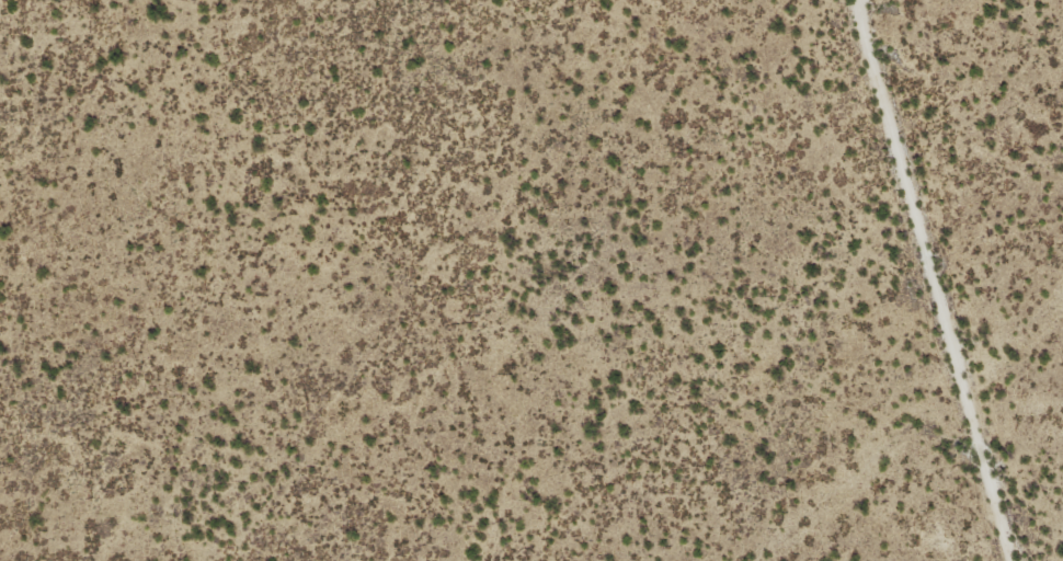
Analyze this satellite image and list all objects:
road: (929, 280)

